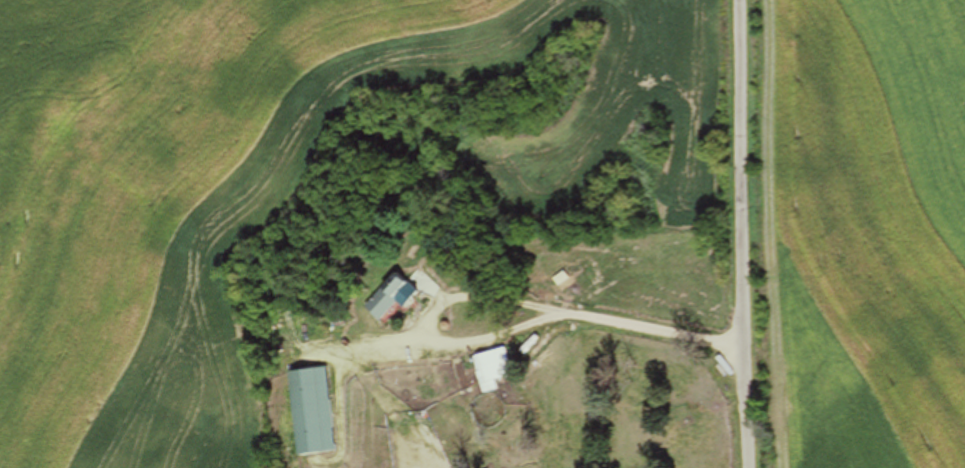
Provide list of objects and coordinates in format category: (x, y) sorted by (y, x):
road: (731, 234)
building: (381, 297)
building: (487, 368)
building: (306, 411)

